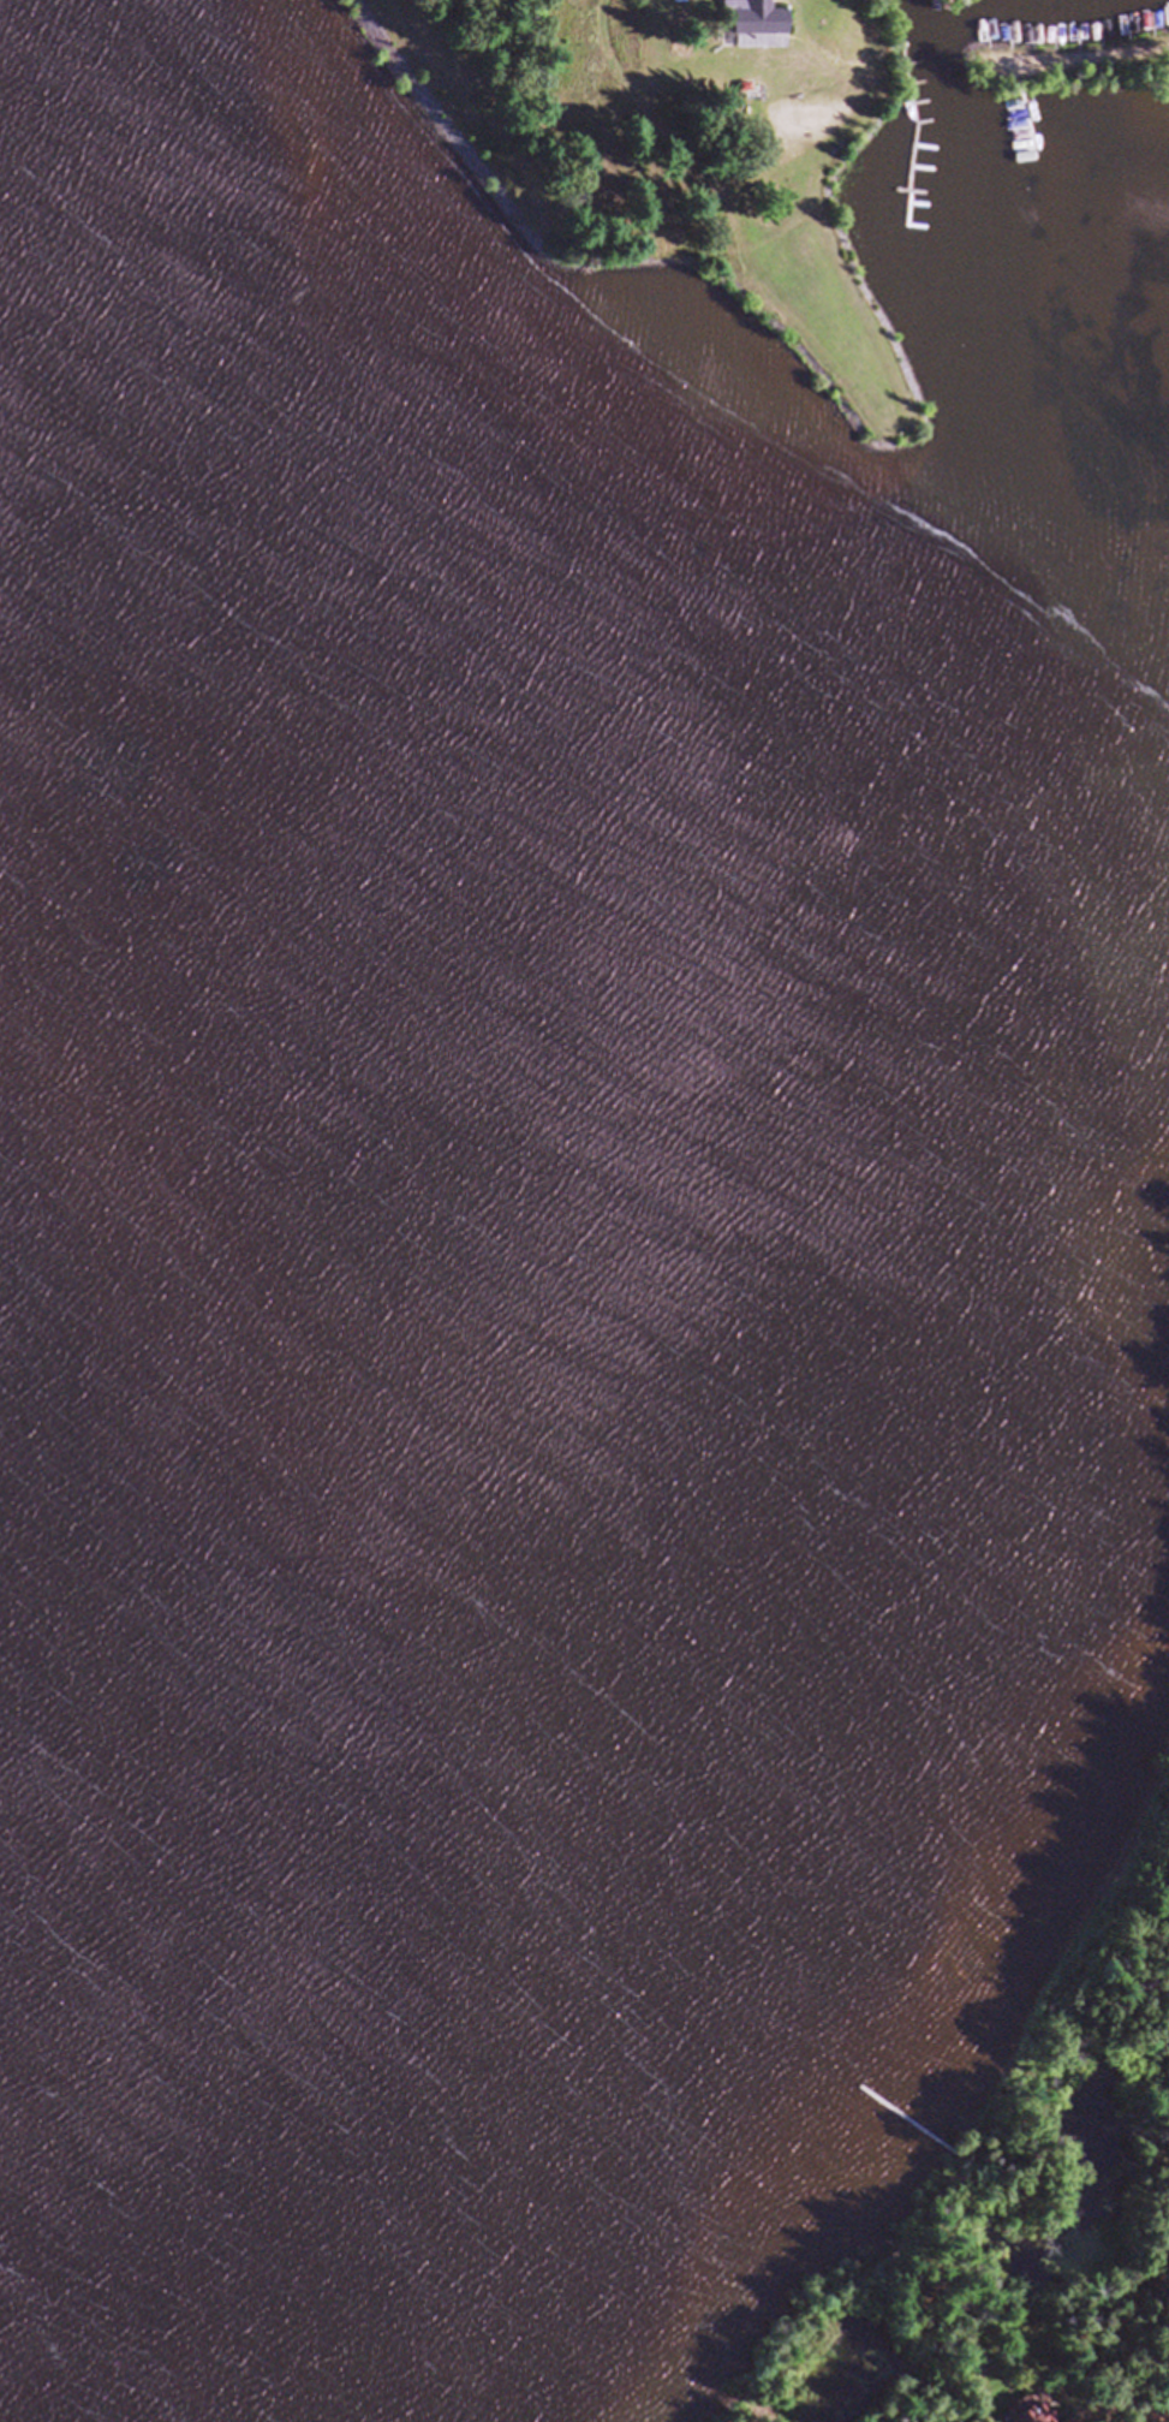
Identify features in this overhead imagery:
building: (756, 25)
building: (1033, 2416)

